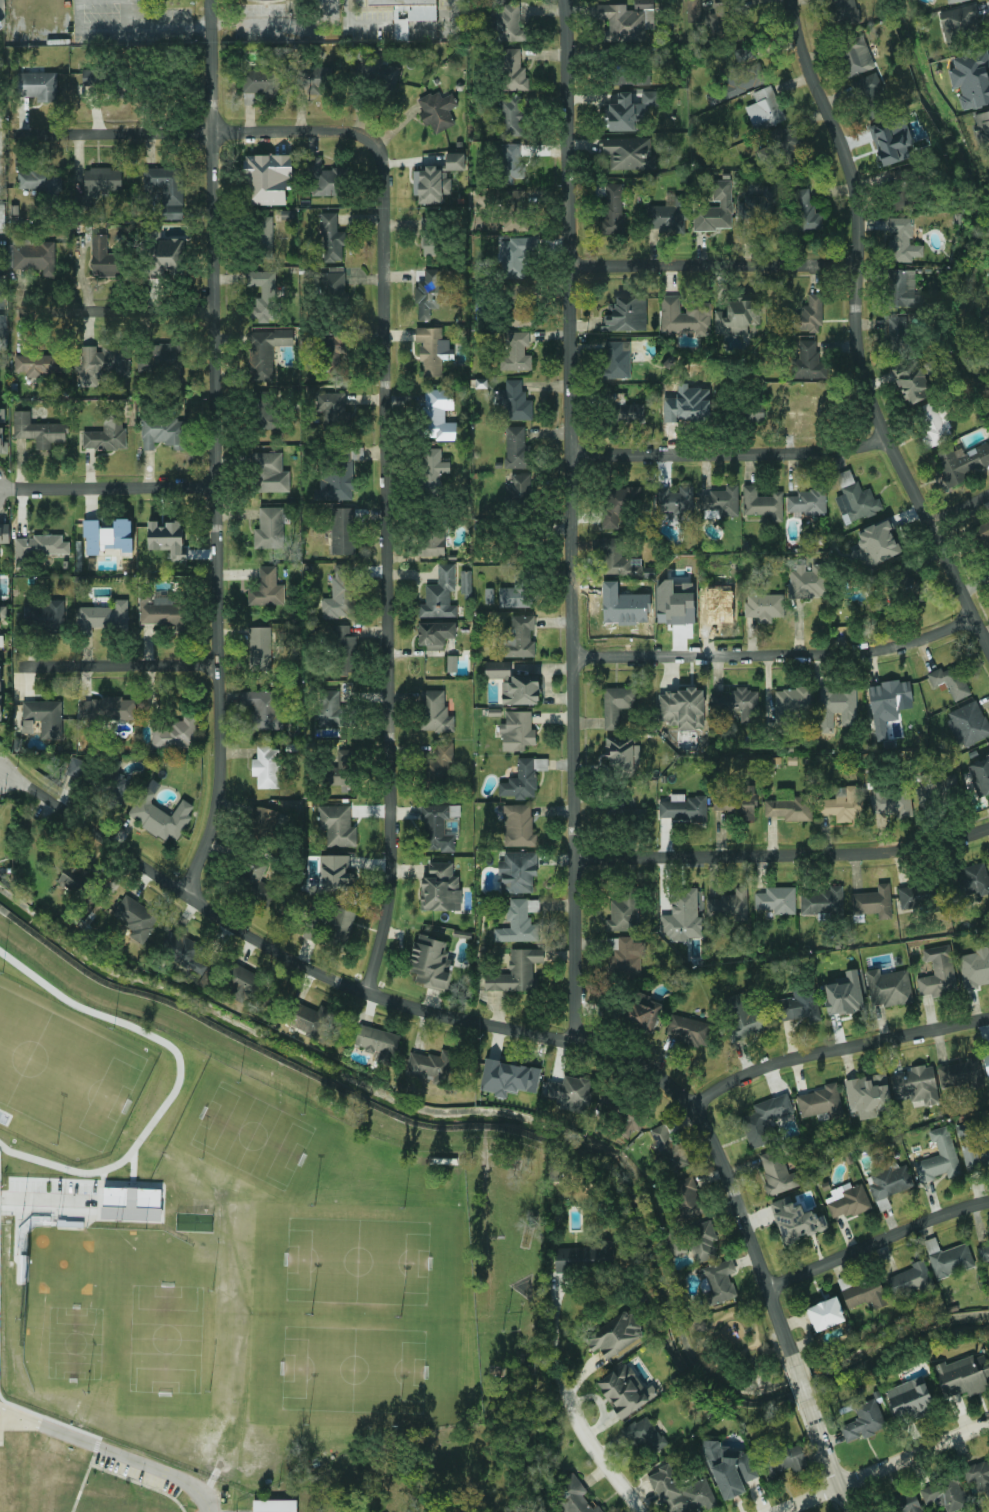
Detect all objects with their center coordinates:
building: (954, 1)
road: (456, 4)
building: (414, 8)
building: (694, 11)
building: (708, 11)
building: (840, 12)
building: (628, 20)
building: (726, 22)
road: (278, 23)
building: (509, 23)
road: (358, 24)
building: (961, 26)
road: (157, 27)
building: (856, 55)
building: (378, 68)
building: (514, 70)
building: (745, 72)
building: (630, 75)
building: (89, 77)
building: (314, 78)
building: (972, 79)
building: (261, 84)
building: (39, 86)
building: (871, 90)
building: (765, 109)
building: (631, 110)
building: (437, 111)
building: (512, 115)
building: (982, 130)
road: (200, 132)
building: (892, 141)
building: (782, 151)
building: (629, 153)
building: (455, 161)
building: (512, 161)
building: (267, 179)
building: (323, 179)
building: (41, 180)
building: (102, 181)
building: (431, 185)
building: (167, 189)
building: (903, 200)
building: (763, 205)
building: (716, 209)
building: (514, 210)
building: (613, 210)
building: (806, 210)
building: (667, 215)
building: (2, 216)
building: (431, 236)
building: (264, 239)
building: (332, 239)
building: (903, 240)
building: (33, 256)
building: (167, 256)
building: (516, 256)
building: (103, 258)
road: (716, 264)
building: (333, 283)
building: (903, 289)
building: (430, 293)
building: (263, 296)
building: (521, 305)
road: (117, 310)
building: (627, 314)
building: (810, 315)
building: (684, 317)
building: (738, 317)
building: (3, 322)
road: (859, 326)
building: (898, 334)
building: (433, 350)
building: (265, 352)
building: (516, 352)
building: (331, 353)
building: (169, 356)
building: (618, 359)
building: (808, 362)
building: (104, 363)
building: (43, 364)
building: (915, 380)
building: (516, 402)
building: (267, 410)
building: (333, 411)
building: (627, 411)
building: (438, 414)
building: (757, 414)
building: (2, 415)
building: (934, 423)
building: (39, 431)
building: (164, 433)
building: (108, 434)
building: (3, 442)
building: (516, 448)
road: (217, 449)
road: (729, 453)
building: (962, 462)
building: (434, 467)
building: (270, 473)
building: (337, 477)
building: (520, 486)
road: (109, 490)
building: (855, 499)
building: (721, 502)
building: (807, 502)
building: (763, 503)
building: (619, 504)
building: (675, 504)
road: (960, 509)
road: (572, 521)
building: (270, 528)
building: (343, 531)
building: (5, 532)
building: (108, 536)
building: (167, 538)
building: (879, 543)
building: (432, 544)
building: (41, 546)
building: (617, 559)
road: (388, 568)
building: (466, 582)
building: (809, 582)
building: (267, 589)
building: (340, 593)
building: (440, 595)
building: (516, 597)
building: (674, 603)
building: (720, 606)
building: (765, 607)
building: (159, 609)
building: (3, 612)
building: (106, 616)
building: (44, 617)
building: (435, 634)
building: (520, 637)
building: (1, 641)
building: (260, 648)
building: (346, 651)
road: (780, 655)
building: (452, 663)
road: (125, 664)
building: (0, 678)
building: (951, 681)
building: (514, 684)
building: (617, 704)
building: (887, 704)
building: (733, 707)
building: (837, 707)
building: (1, 708)
building: (329, 708)
building: (682, 708)
building: (788, 708)
building: (107, 709)
building: (263, 709)
building: (435, 712)
building: (46, 717)
building: (969, 724)
building: (27, 726)
building: (518, 731)
building: (175, 733)
building: (623, 754)
building: (441, 759)
building: (267, 767)
building: (76, 769)
building: (343, 769)
building: (981, 775)
building: (524, 779)
building: (115, 789)
building: (925, 795)
building: (738, 802)
building: (891, 802)
building: (843, 804)
building: (790, 806)
building: (683, 808)
building: (161, 814)
building: (264, 821)
building: (337, 826)
building: (439, 826)
building: (519, 826)
road: (783, 856)
building: (518, 872)
building: (336, 873)
building: (972, 880)
building: (255, 882)
building: (441, 888)
building: (920, 896)
building: (777, 900)
building: (823, 901)
building: (874, 902)
building: (730, 905)
building: (623, 912)
building: (683, 916)
building: (137, 918)
building: (520, 922)
building: (330, 925)
road: (270, 947)
building: (183, 951)
building: (625, 957)
building: (431, 962)
building: (975, 968)
building: (516, 972)
building: (938, 973)
building: (241, 981)
building: (889, 988)
building: (844, 994)
building: (800, 1005)
building: (643, 1011)
building: (745, 1017)
building: (307, 1019)
building: (688, 1030)
building: (378, 1043)
road: (836, 1049)
building: (987, 1062)
building: (431, 1065)
park: (64, 1069)
building: (960, 1074)
building: (509, 1078)
building: (916, 1085)
building: (569, 1092)
building: (868, 1095)
building: (821, 1102)
building: (622, 1116)
building: (765, 1120)
park: (253, 1134)
building: (988, 1137)
building: (670, 1149)
building: (971, 1150)
building: (940, 1157)
road: (724, 1170)
building: (777, 1173)
building: (891, 1183)
building: (686, 1198)
building: (848, 1201)
building: (796, 1221)
building: (702, 1241)
road: (877, 1243)
building: (988, 1248)
building: (586, 1257)
building: (949, 1258)
park: (358, 1263)
building: (911, 1281)
building: (719, 1283)
building: (863, 1292)
park: (98, 1302)
building: (826, 1314)
building: (615, 1335)
road: (553, 1340)
park: (740, 1345)
park: (355, 1368)
building: (964, 1375)
road: (801, 1386)
building: (625, 1391)
building: (910, 1399)
road: (8, 1414)
building: (865, 1421)
building: (646, 1434)
road: (114, 1451)
road: (221, 1455)
road: (602, 1456)
road: (830, 1460)
building: (782, 1461)
road: (885, 1468)
building: (730, 1469)
building: (978, 1476)
building: (682, 1492)
building: (946, 1494)
building: (573, 1495)
building: (908, 1504)
building: (275, 1506)

